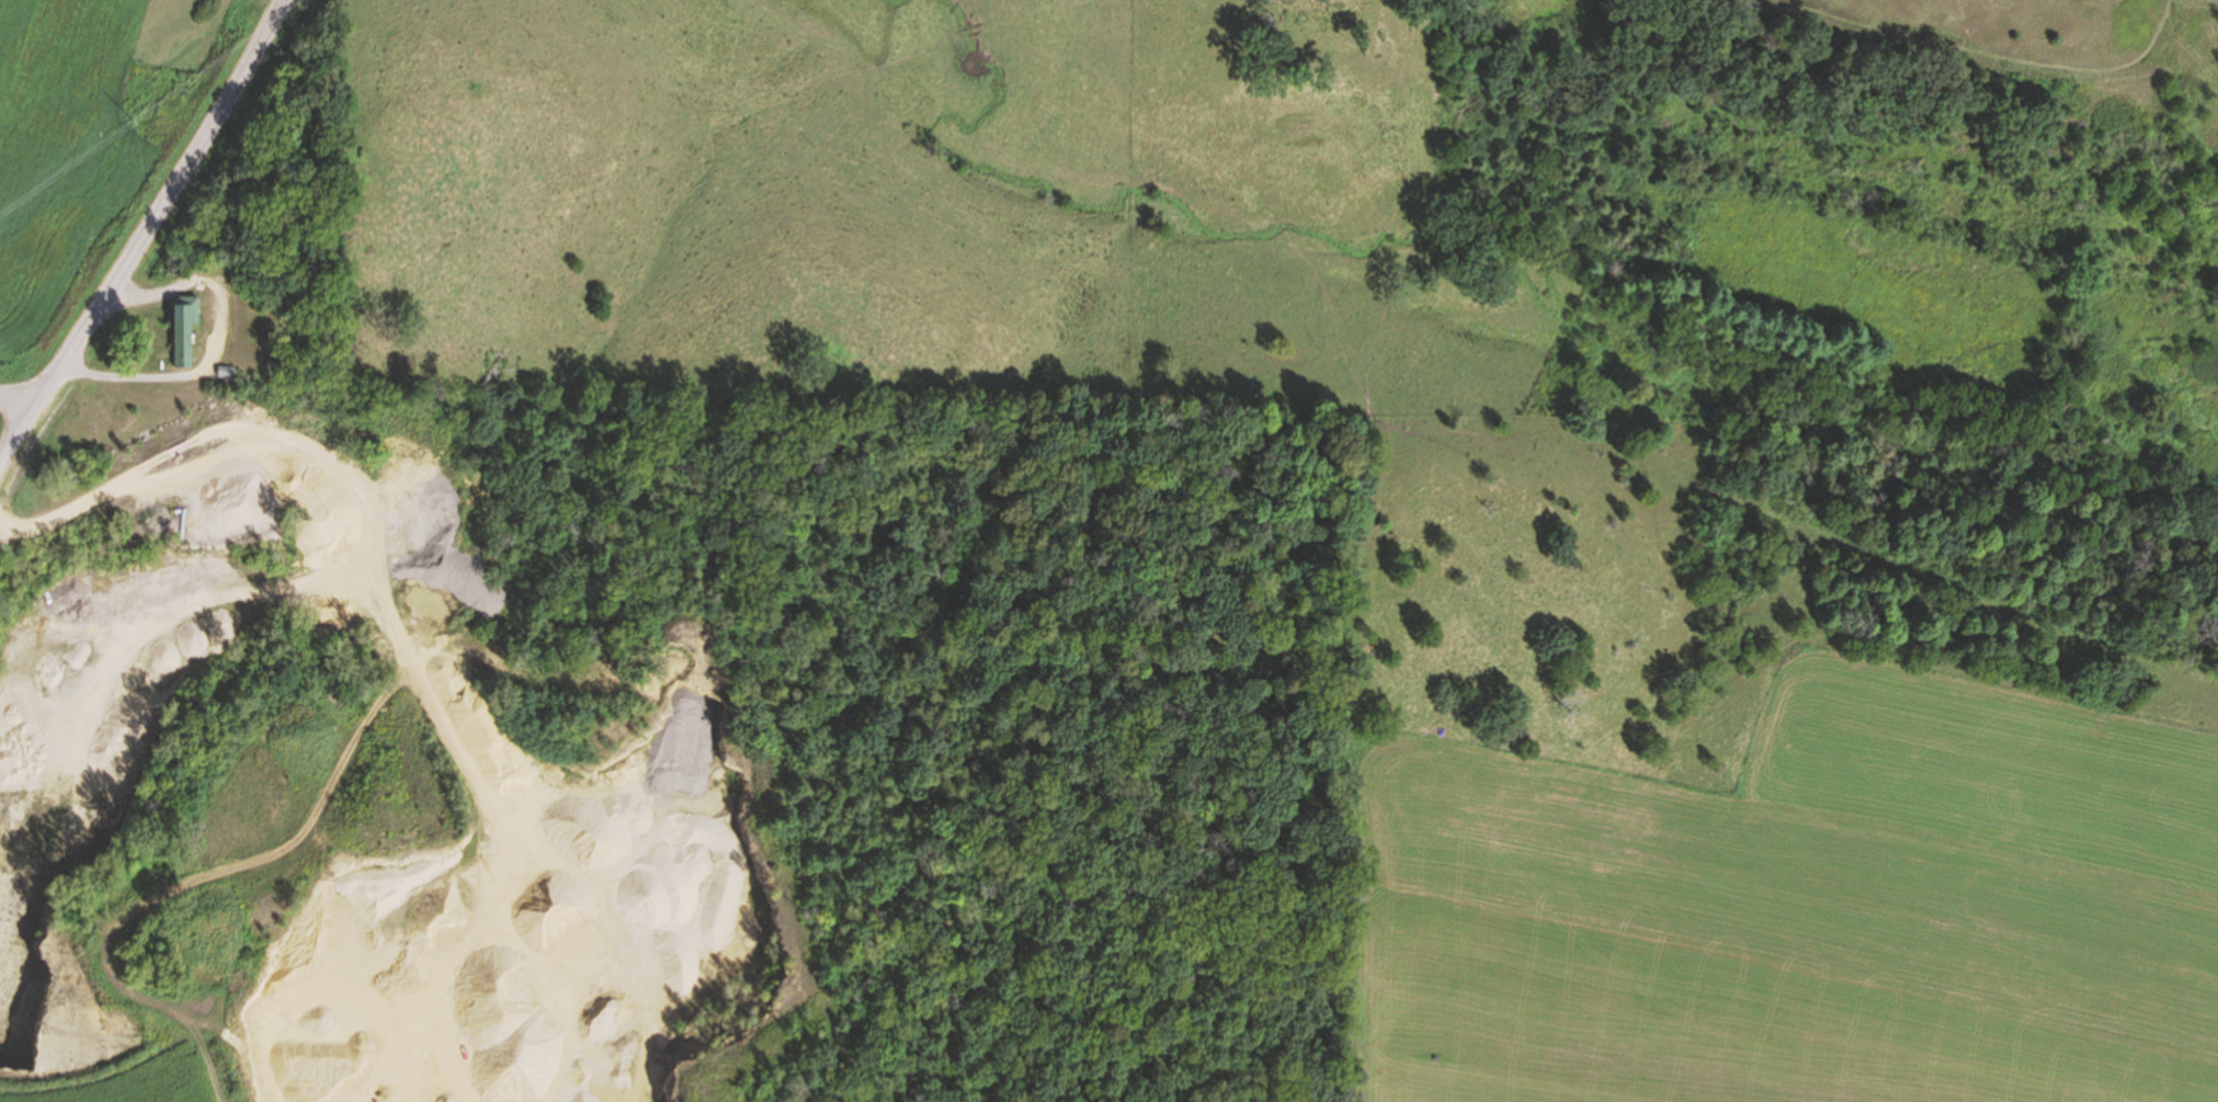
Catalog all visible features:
road: (150, 237)
building: (184, 329)
road: (217, 349)
building: (228, 373)
road: (22, 396)
road: (360, 509)
quarry: (386, 766)

